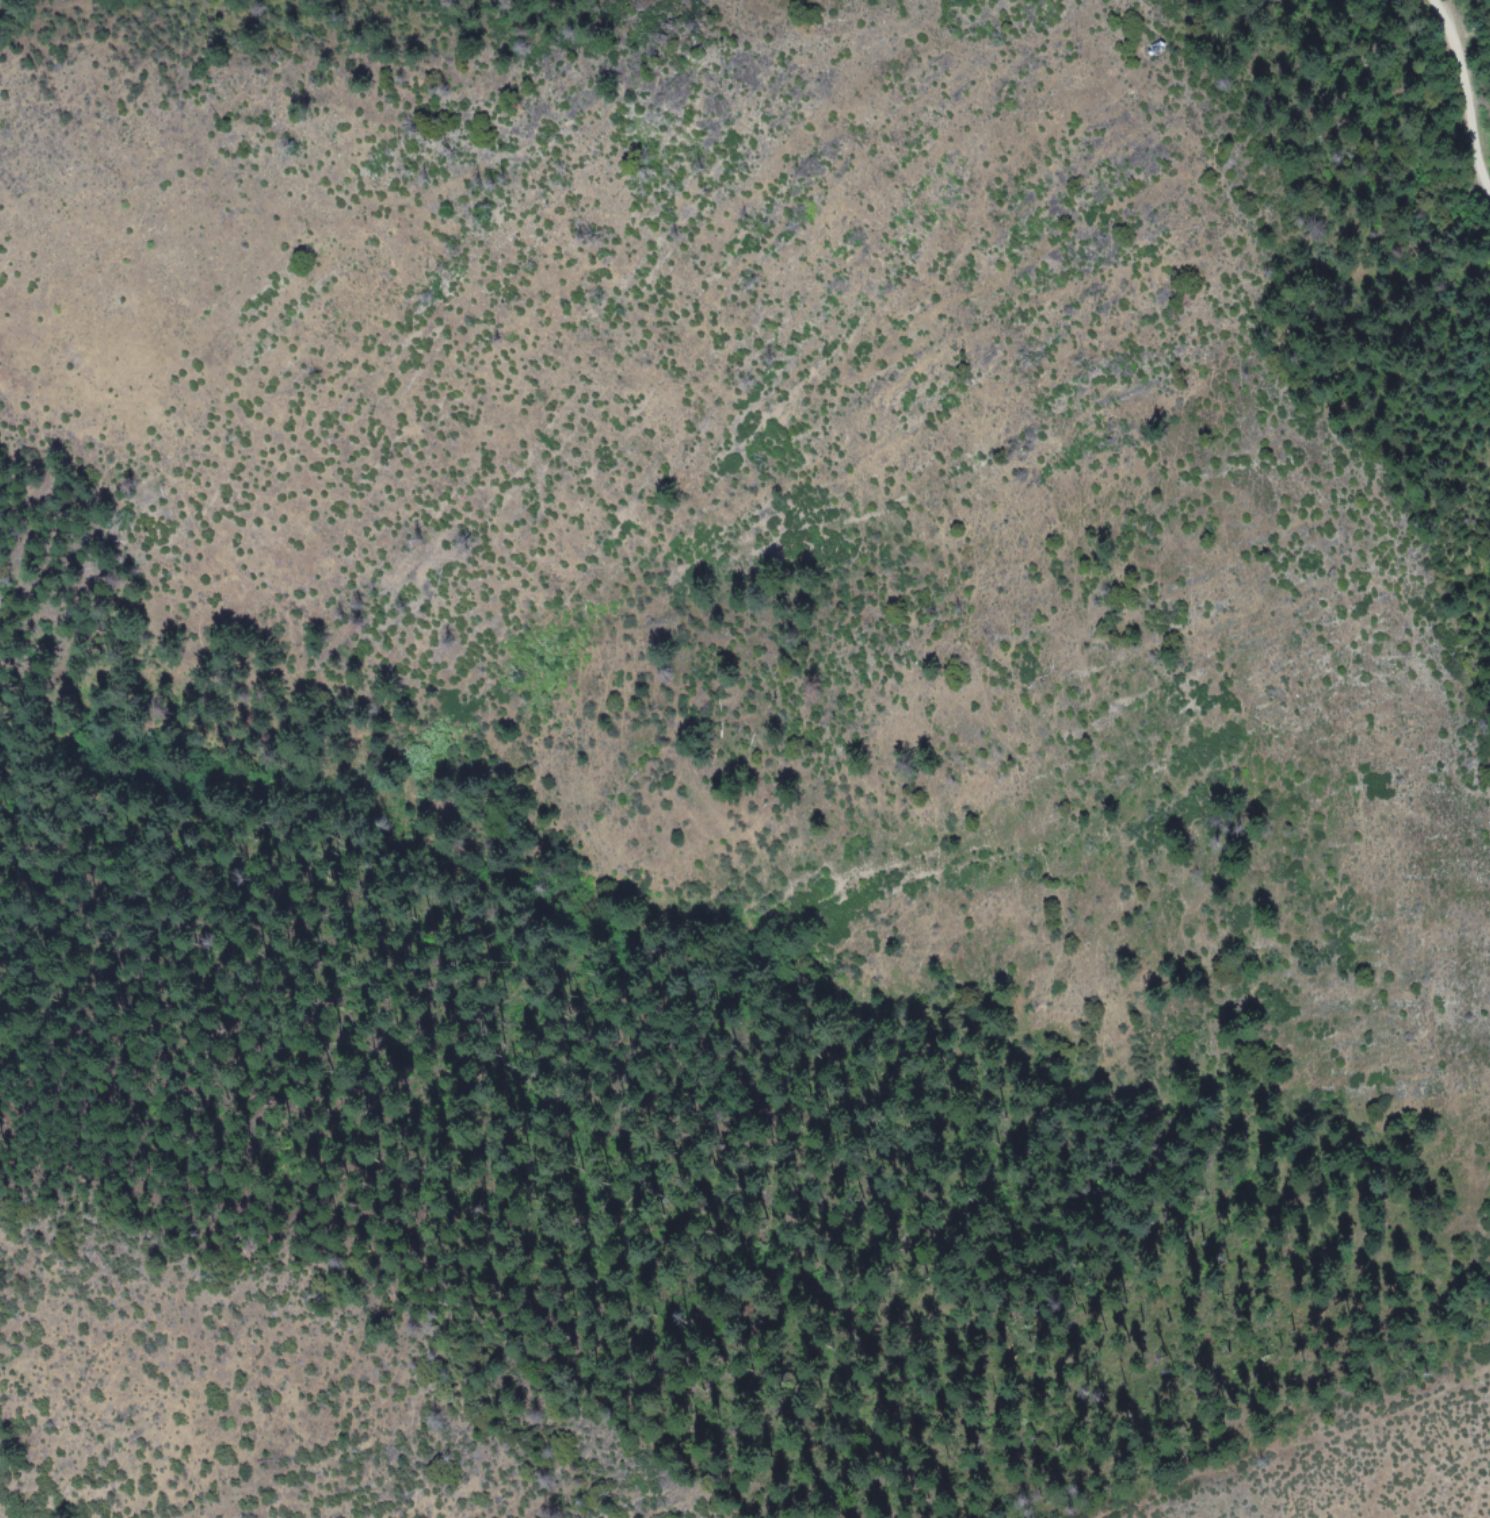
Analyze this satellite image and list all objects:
road: (1449, 82)

